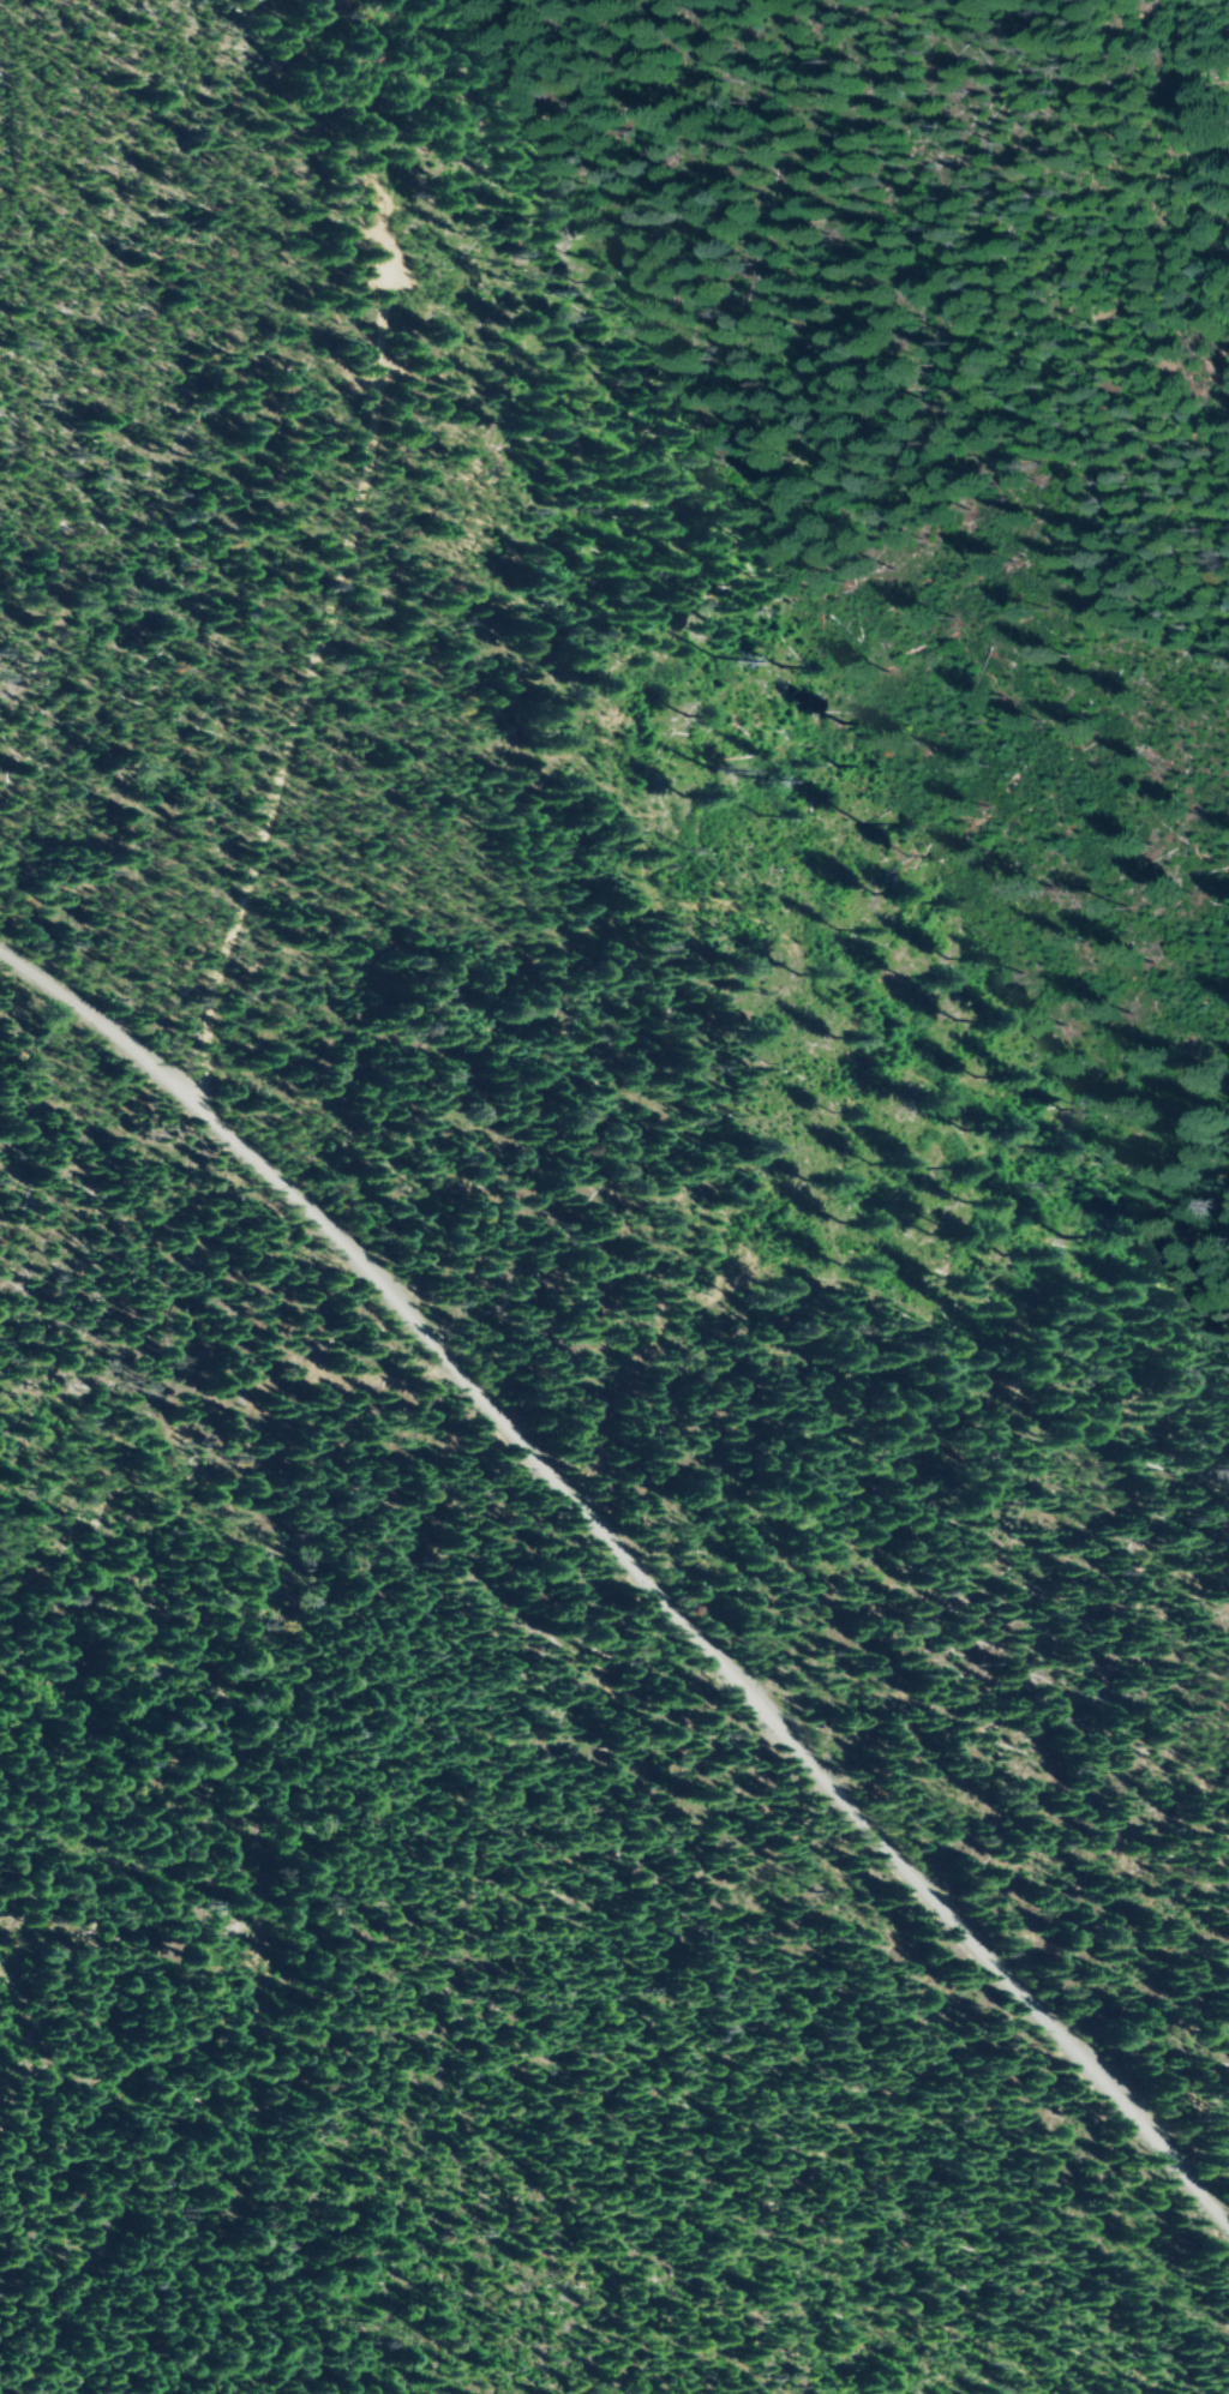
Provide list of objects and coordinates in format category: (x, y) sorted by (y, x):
road: (368, 562)
road: (633, 1571)

